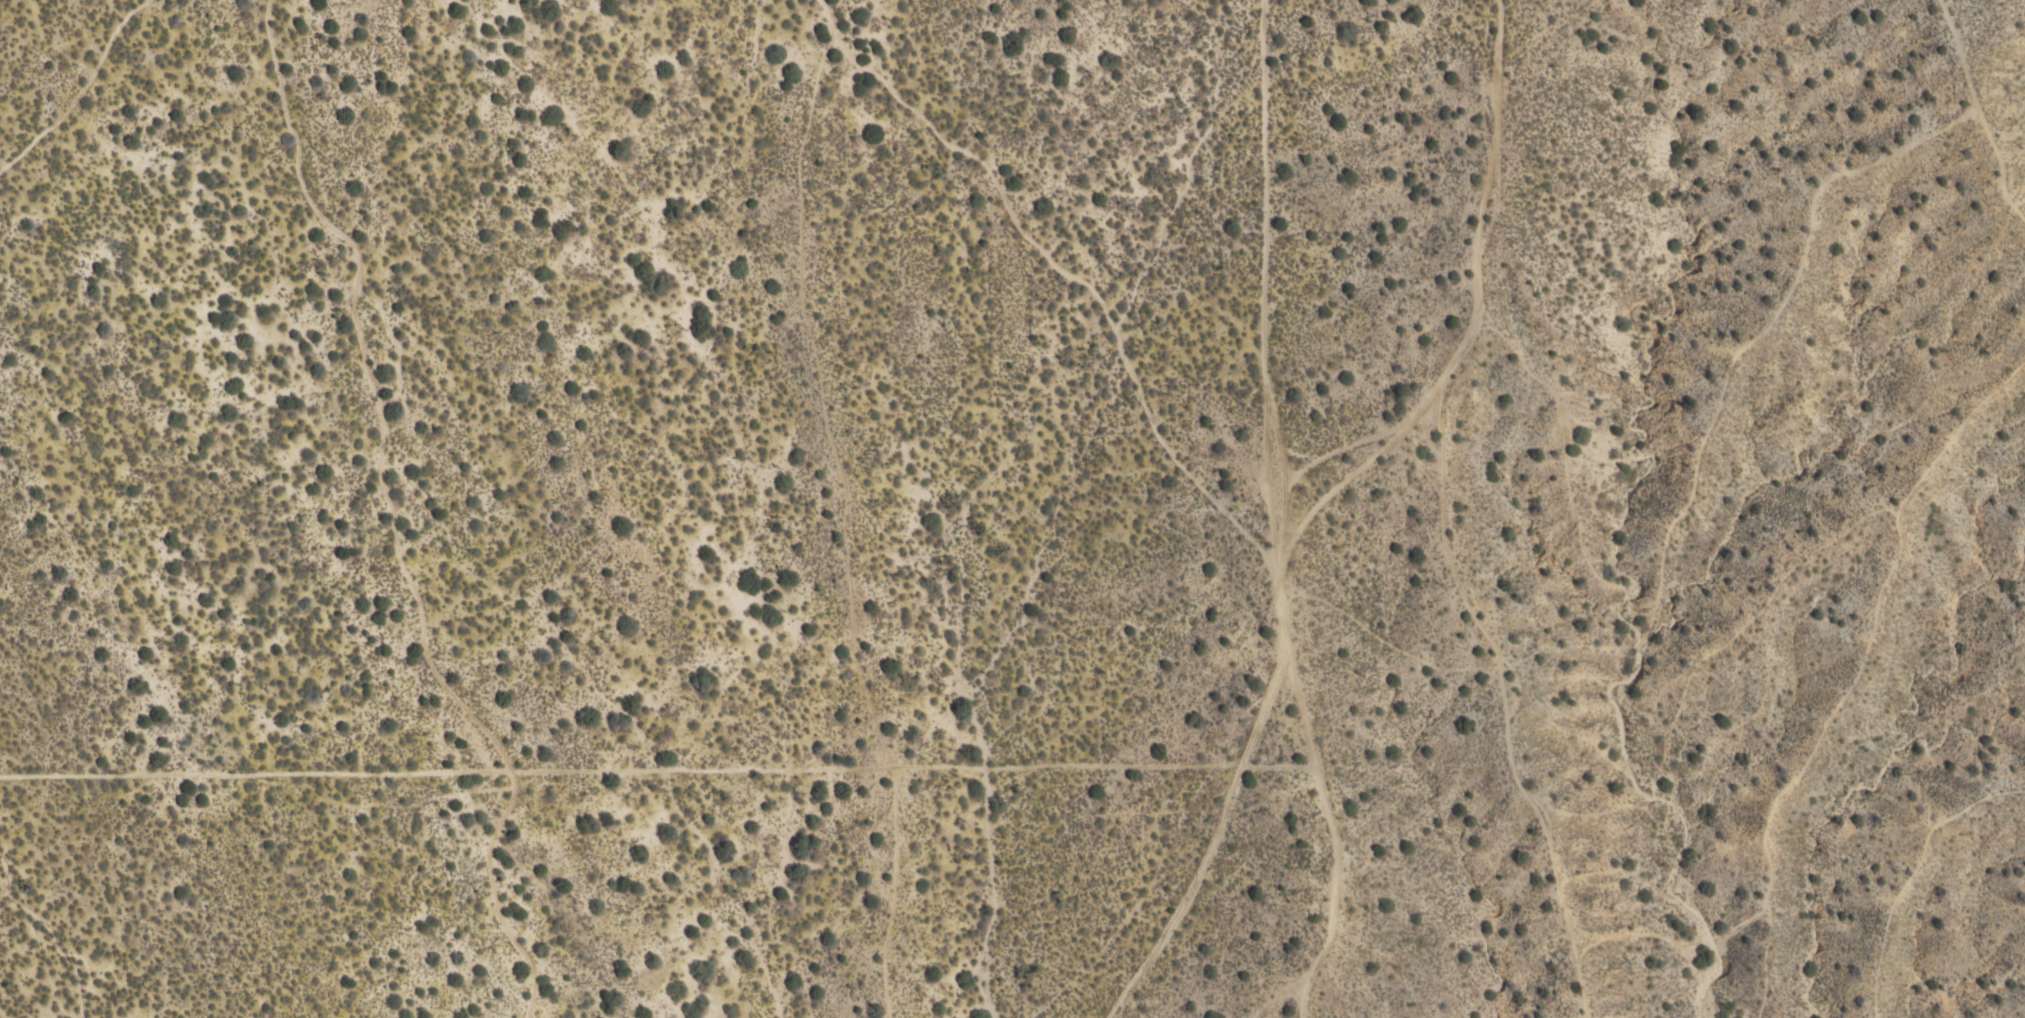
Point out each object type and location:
road: (1271, 513)

